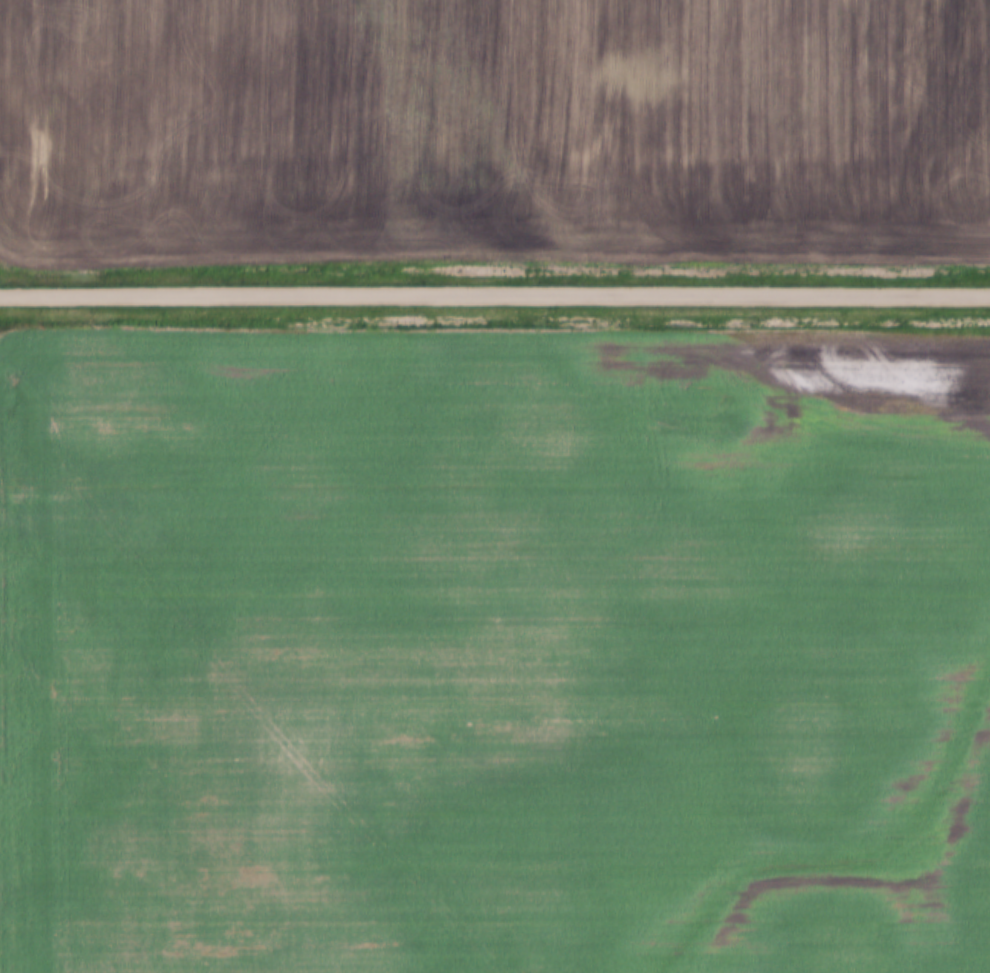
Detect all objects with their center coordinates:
road: (494, 296)

